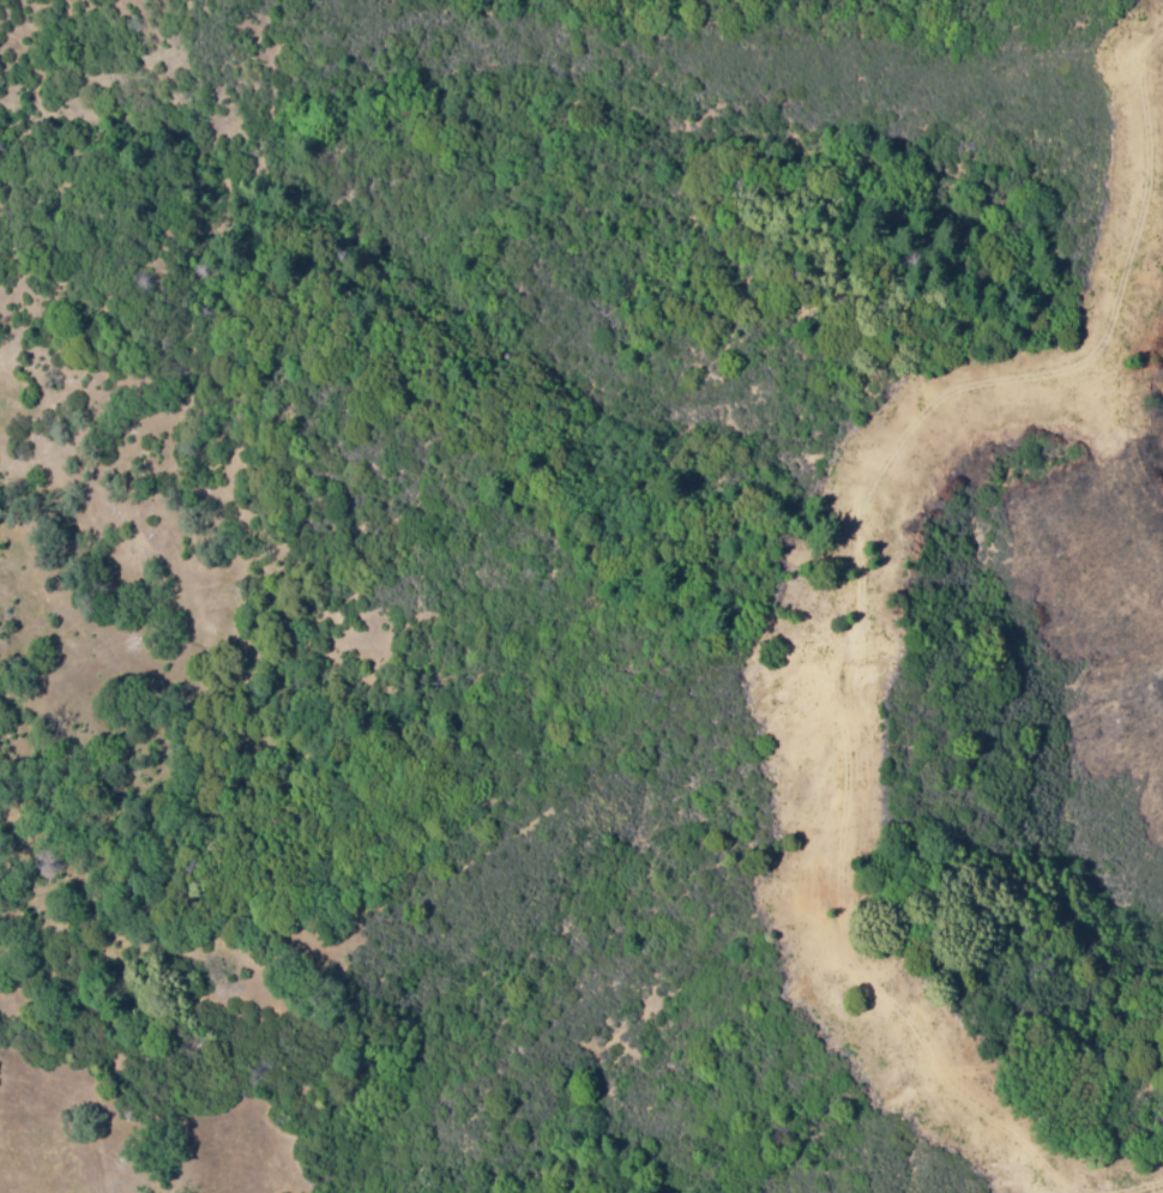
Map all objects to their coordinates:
road: (42, 88)

